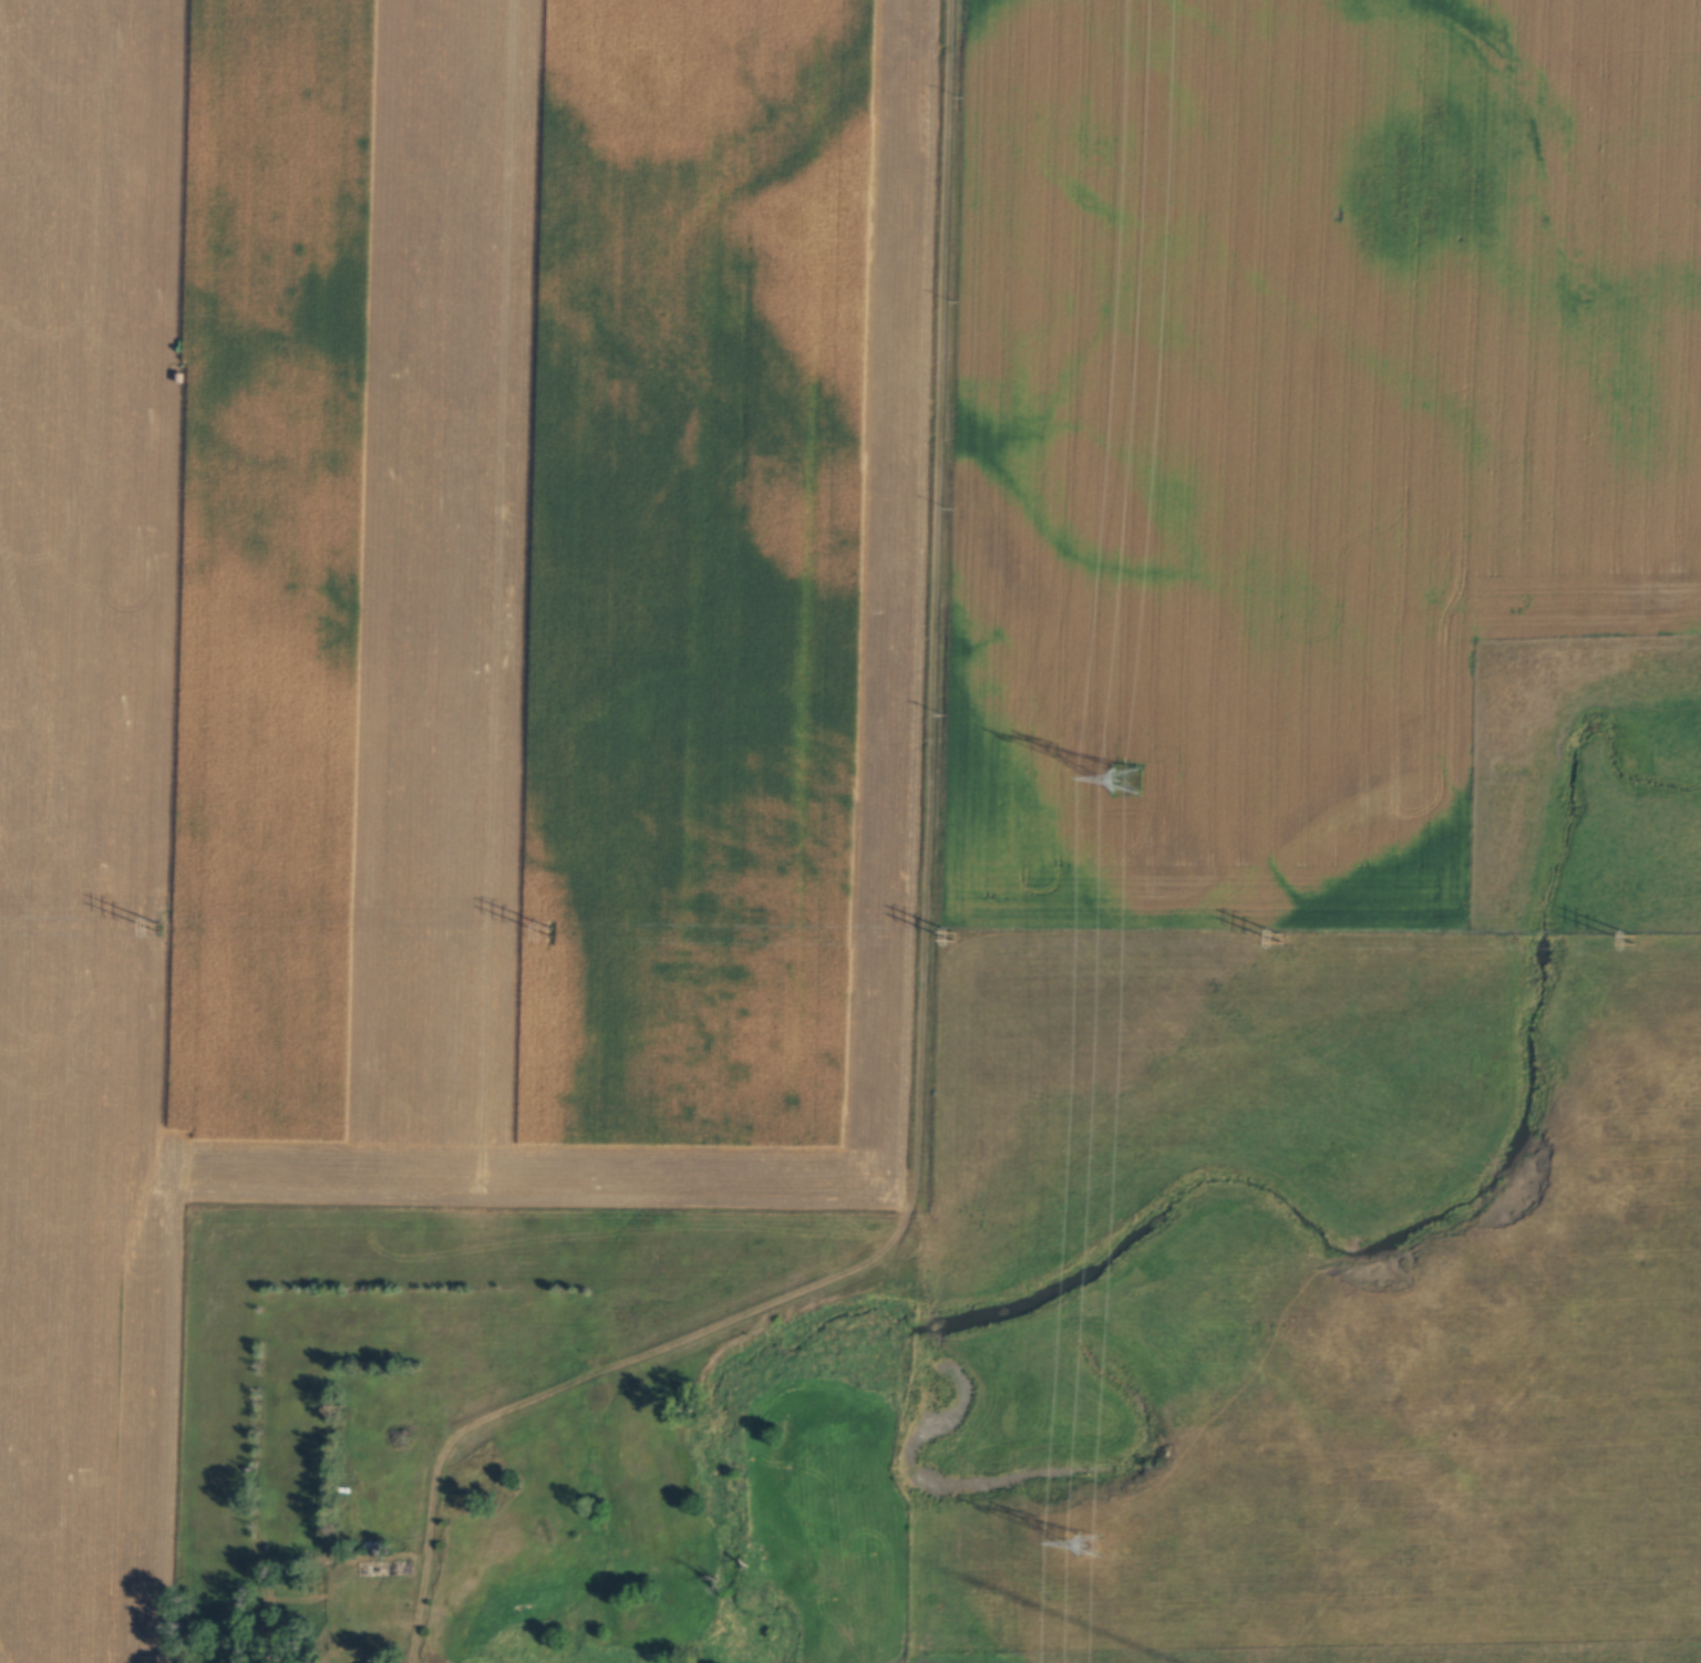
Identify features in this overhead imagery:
power tower: (1125, 782)
power tower: (155, 928)
power tower: (553, 932)
power tower: (953, 938)
power tower: (1280, 938)
power tower: (1633, 941)
power tower: (1086, 1558)

